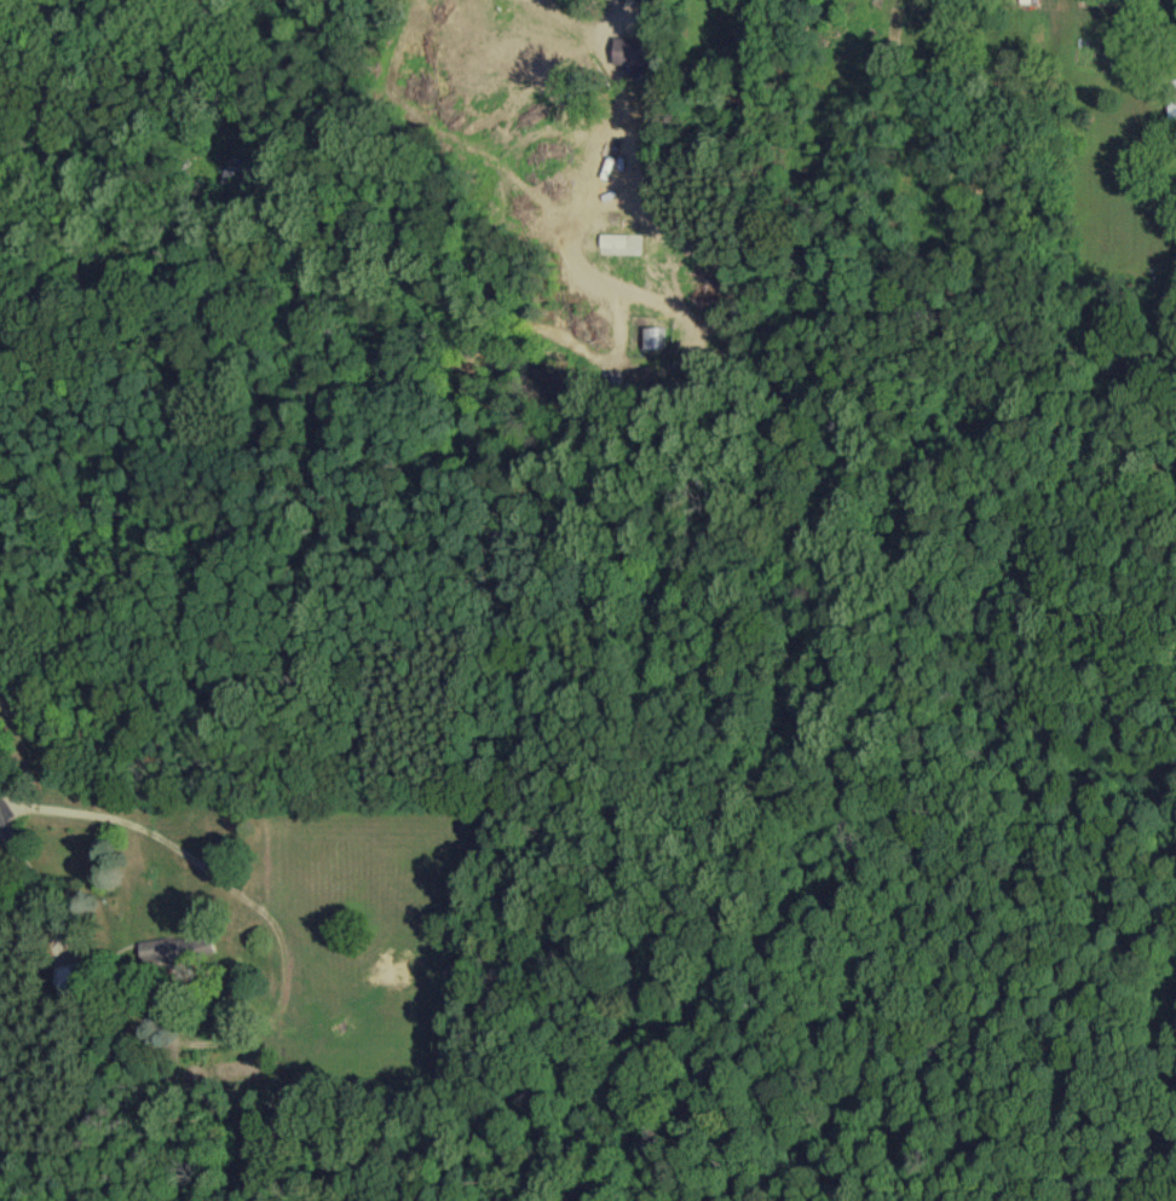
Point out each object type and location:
road: (168, 35)
building: (1170, 54)
building: (1170, 99)
building: (629, 117)
building: (237, 180)
road: (34, 873)
building: (178, 948)

